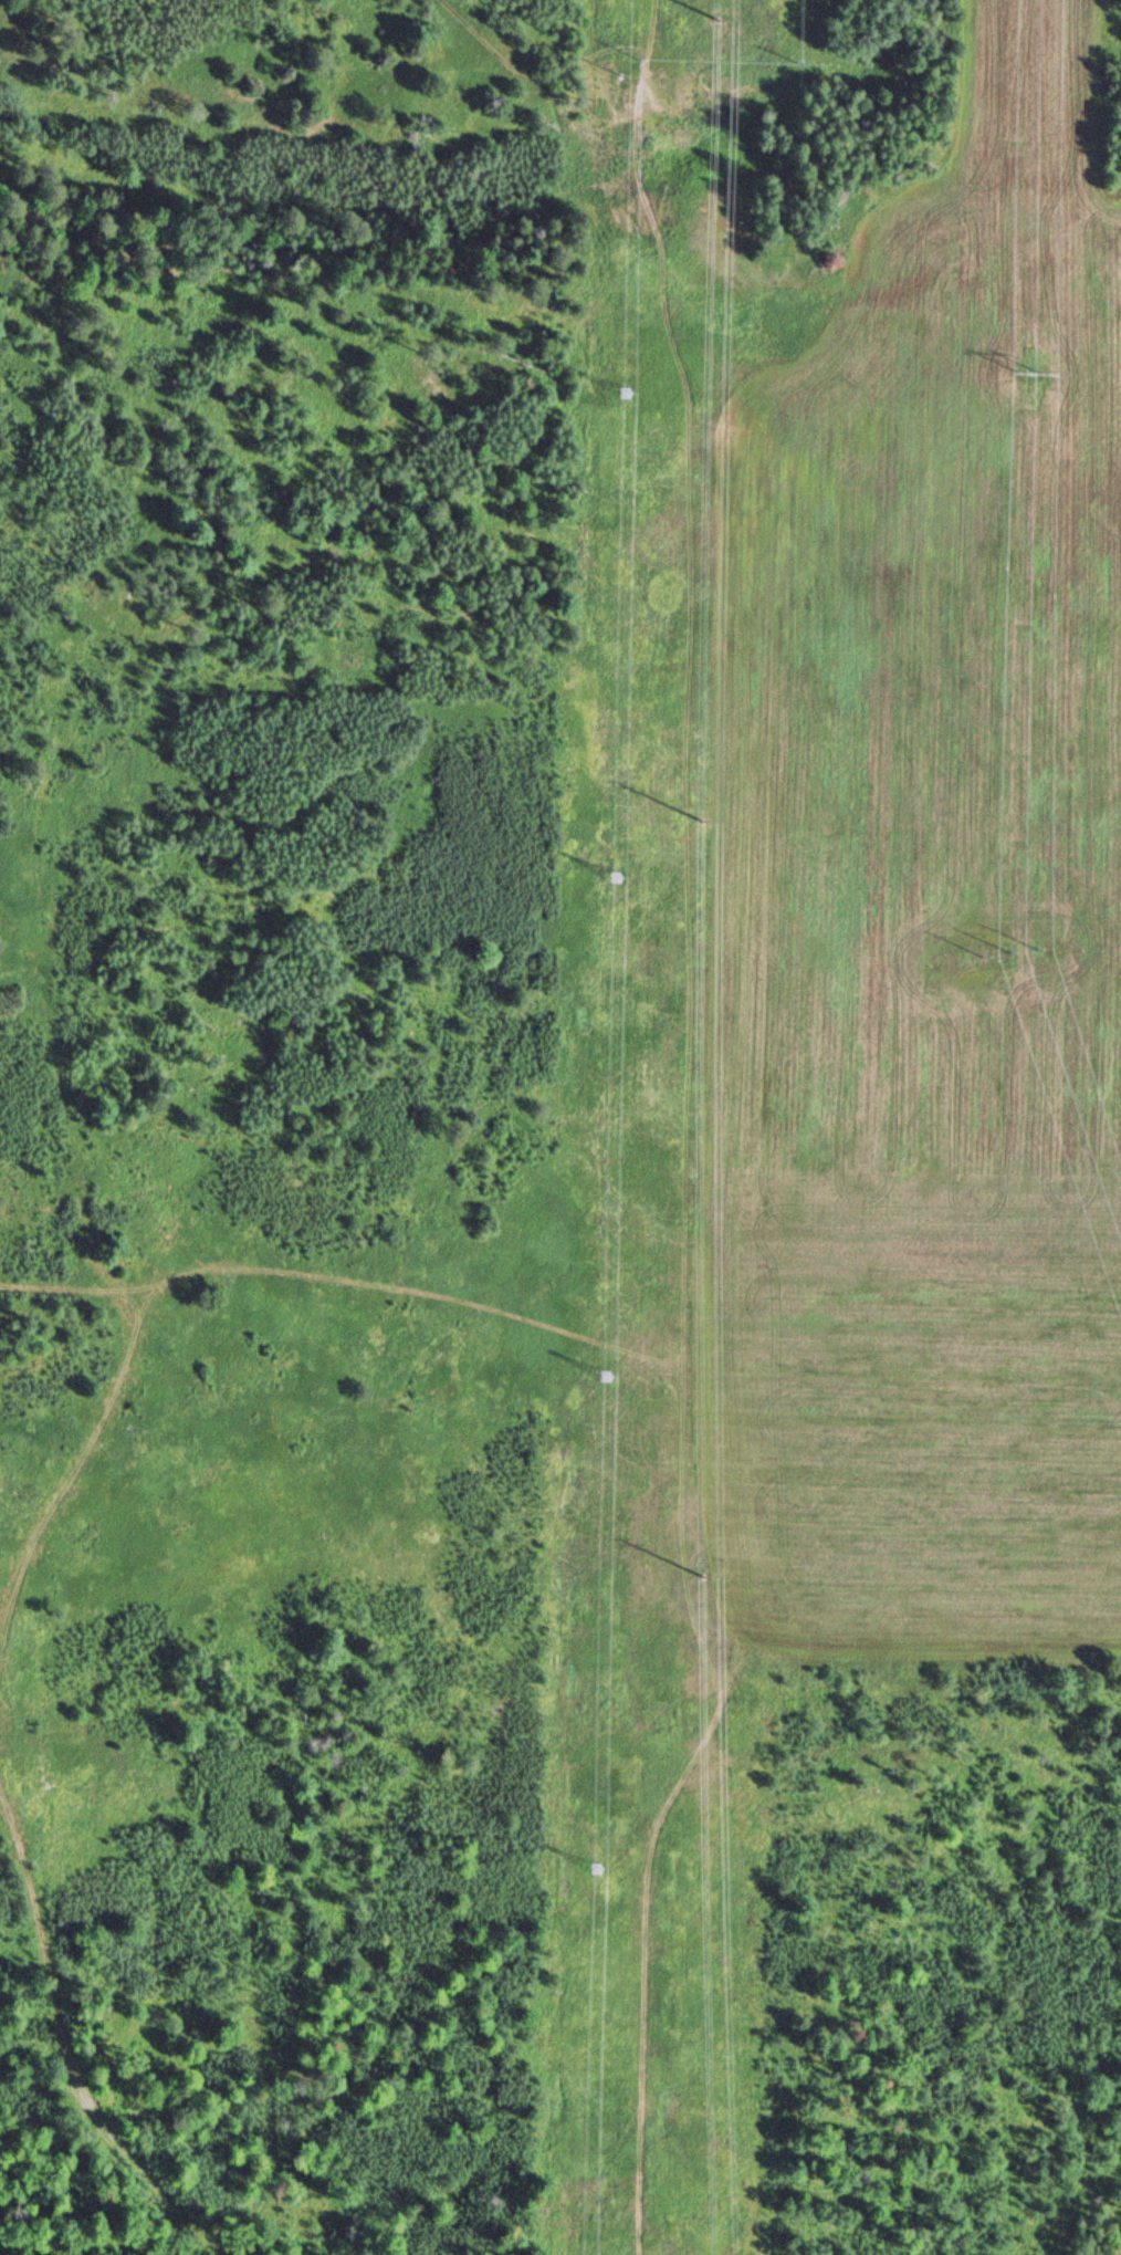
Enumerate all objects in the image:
power tower: (744, 30)
power tower: (646, 59)
power tower: (811, 64)
power tower: (1027, 378)
power tower: (625, 394)
power tower: (723, 822)
power tower: (617, 875)
power tower: (1015, 957)
power tower: (607, 1376)
power tower: (724, 1588)
power tower: (598, 1868)

